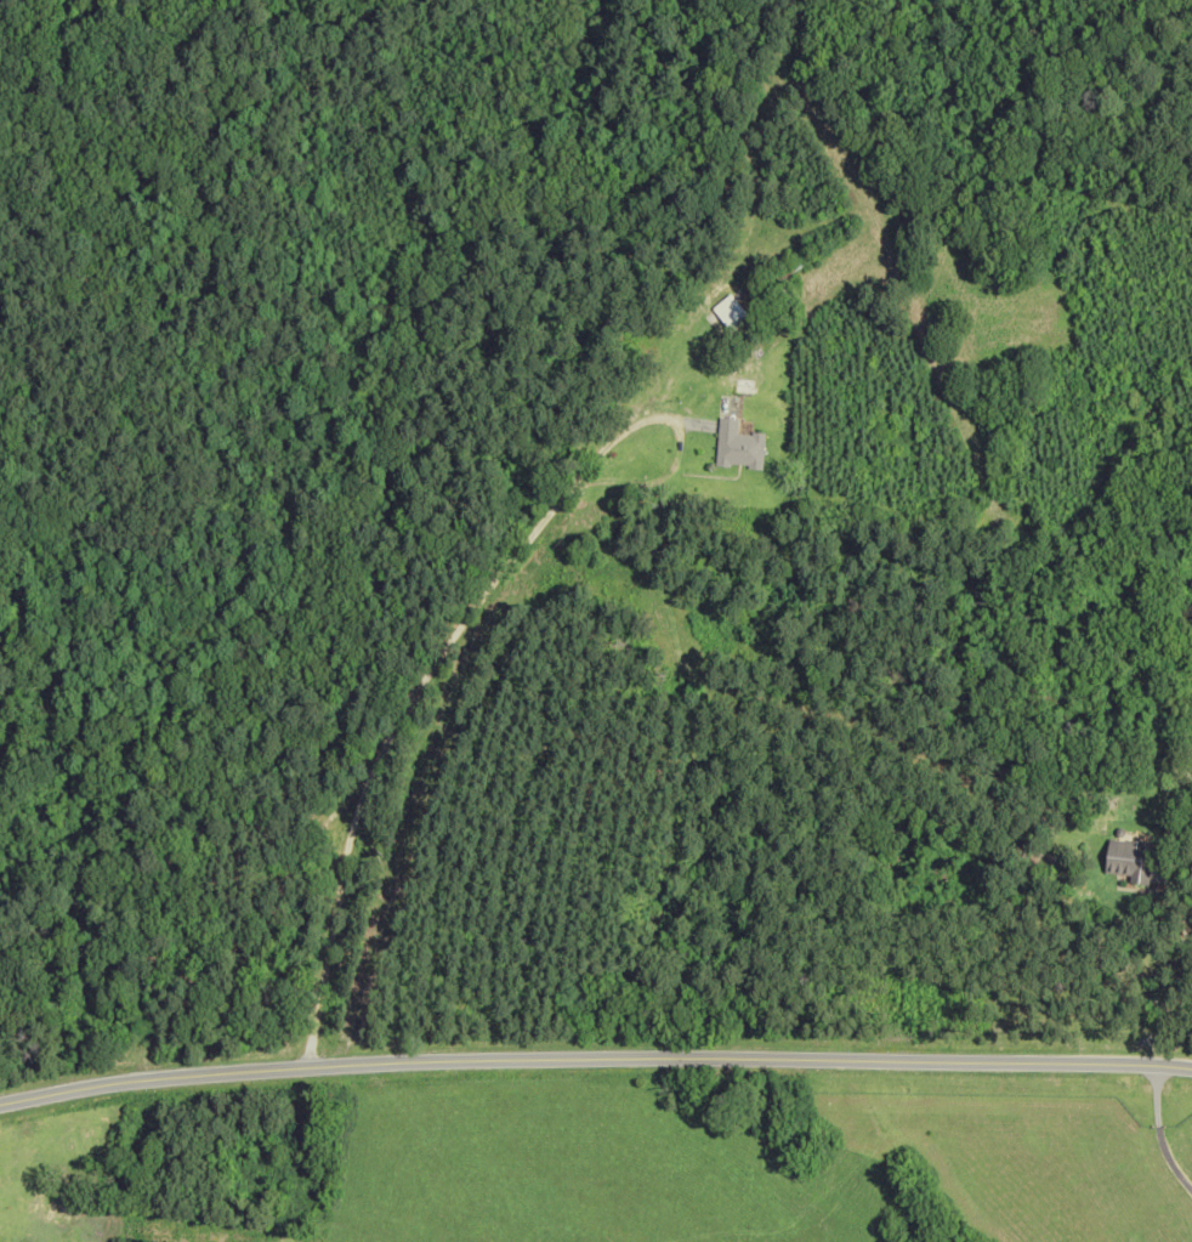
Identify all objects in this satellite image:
building: (730, 312)
building: (736, 447)
building: (1130, 858)
road: (1177, 902)
road: (594, 1057)
building: (58, 1208)

